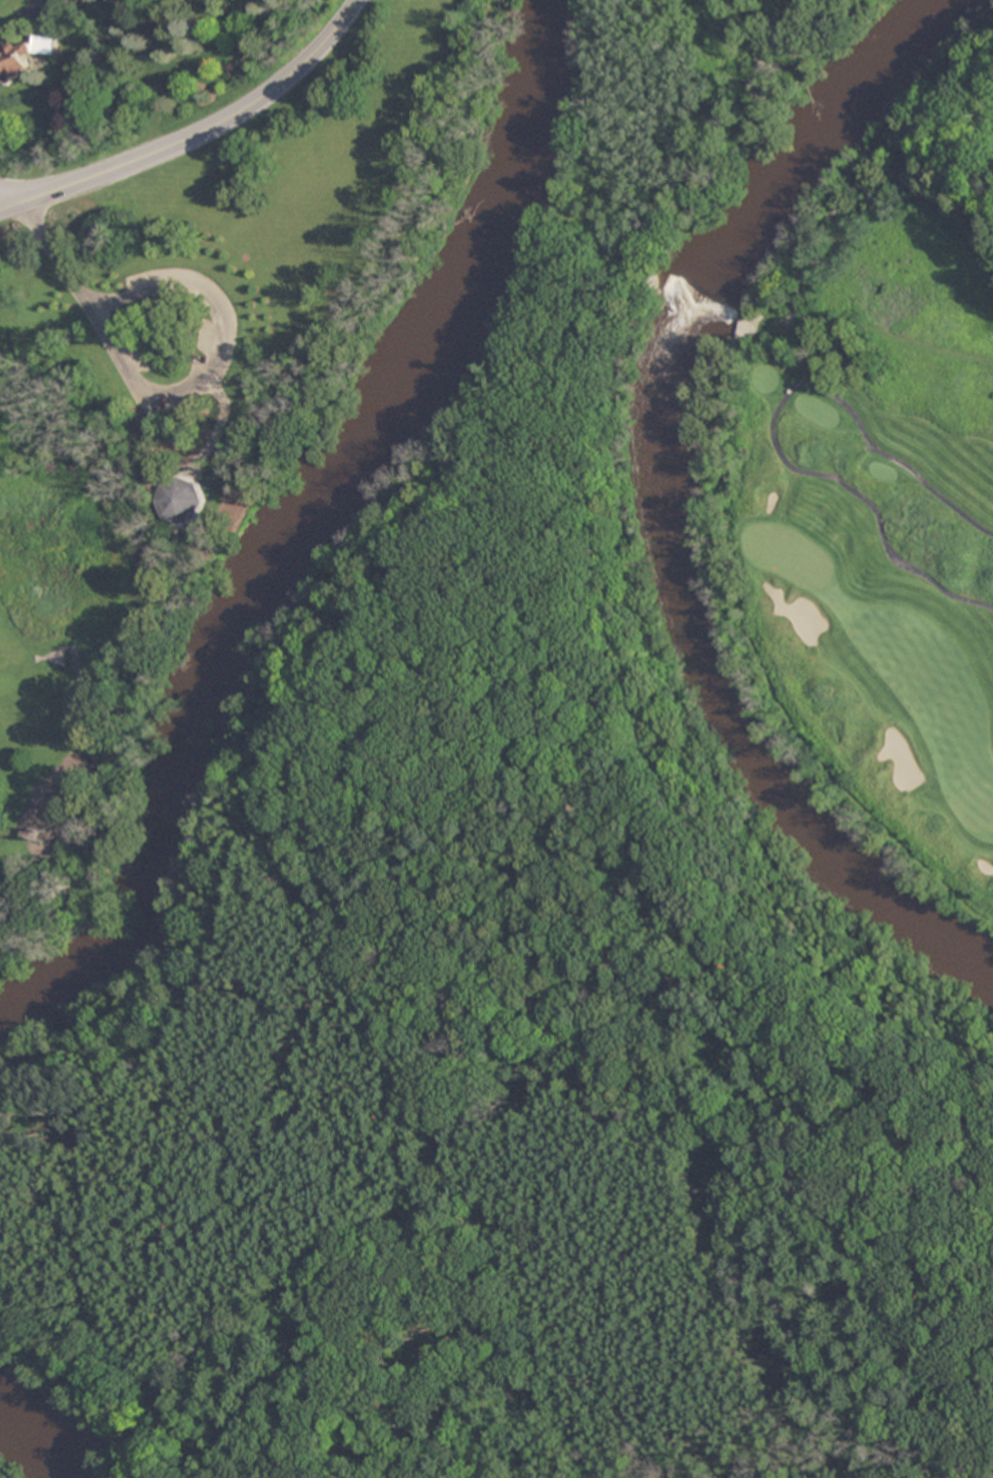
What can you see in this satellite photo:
road: (23, 19)
building: (25, 58)
road: (197, 135)
road: (11, 197)
road: (171, 392)
road: (837, 478)
park: (879, 485)
road: (920, 487)
river: (693, 499)
building: (178, 500)
river: (306, 529)
park: (789, 554)
river: (43, 1432)

